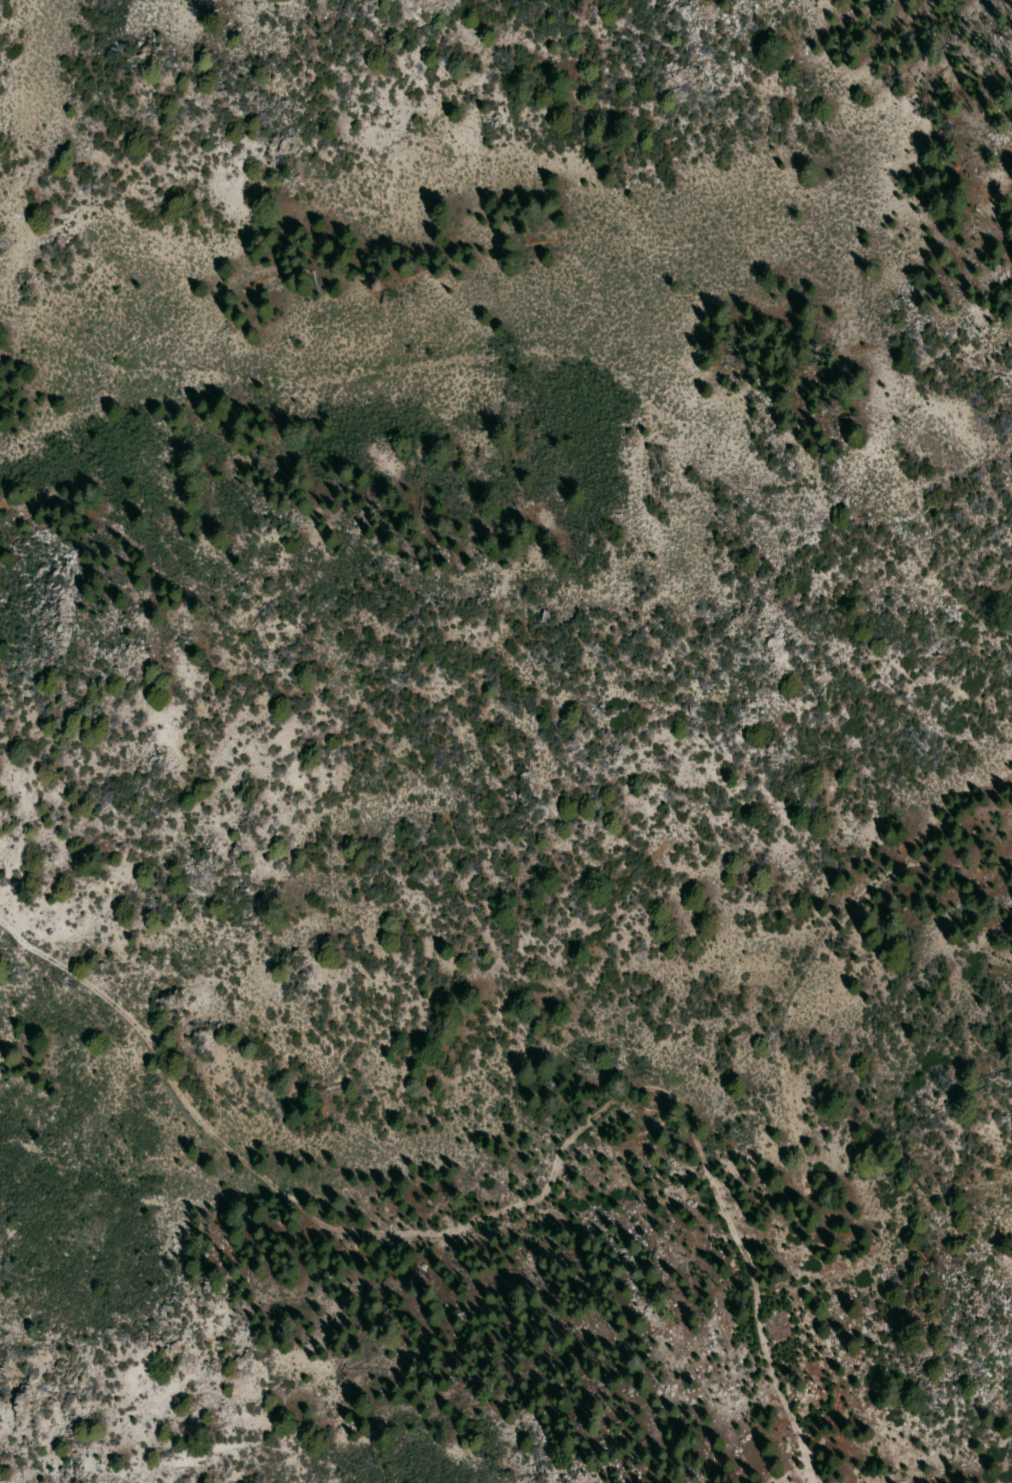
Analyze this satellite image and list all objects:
road: (345, 374)
road: (506, 1216)

